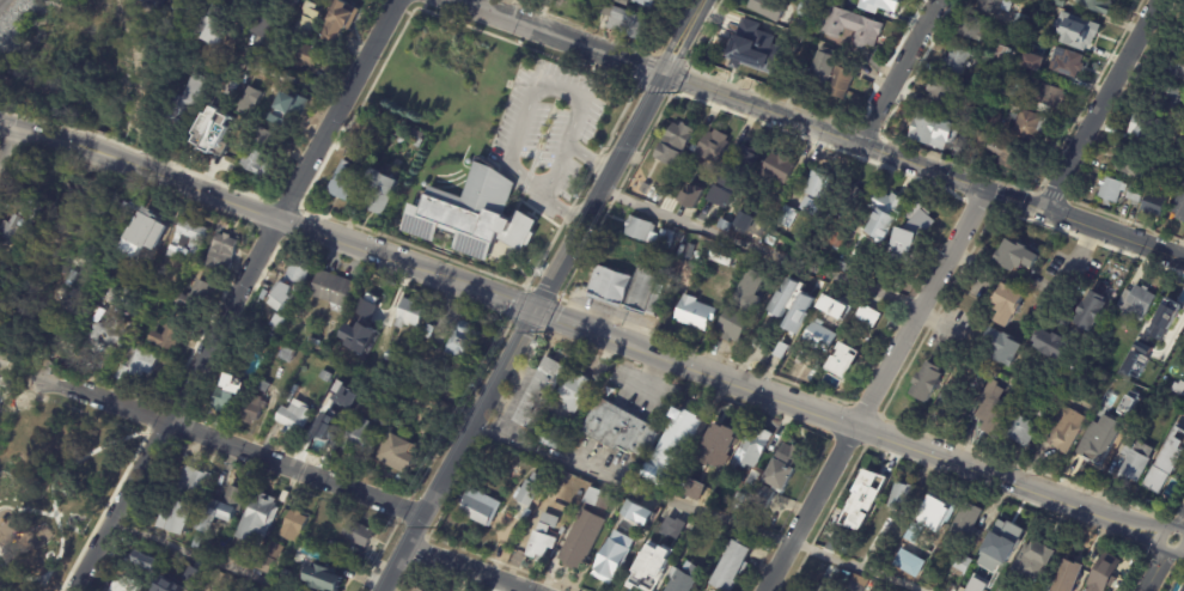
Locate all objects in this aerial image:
railway: (0, 0)
building: (1037, 0)
building: (625, 1)
building: (844, 1)
building: (261, 2)
building: (651, 2)
building: (889, 2)
building: (1056, 2)
building: (297, 4)
building: (154, 5)
building: (994, 5)
building: (1093, 6)
building: (773, 8)
building: (808, 10)
building: (190, 12)
road: (538, 13)
building: (584, 16)
building: (311, 18)
building: (624, 19)
building: (343, 22)
building: (1021, 22)
building: (267, 23)
building: (225, 26)
building: (854, 26)
building: (969, 29)
building: (1079, 33)
road: (560, 36)
road: (683, 37)
building: (94, 42)
building: (1183, 49)
building: (141, 54)
building: (756, 54)
building: (1003, 54)
building: (307, 56)
building: (956, 61)
building: (1023, 62)
building: (1061, 63)
building: (828, 65)
building: (1173, 68)
road: (898, 72)
road: (280, 75)
park: (445, 83)
building: (843, 83)
building: (1009, 91)
building: (203, 92)
power tower: (676, 92)
building: (939, 92)
road: (530, 96)
building: (1044, 98)
building: (1167, 102)
building: (254, 103)
road: (338, 104)
road: (1100, 104)
building: (294, 109)
building: (970, 117)
building: (989, 123)
building: (1027, 127)
building: (1142, 129)
building: (214, 130)
building: (934, 132)
building: (267, 134)
road: (49, 135)
building: (1180, 136)
road: (853, 141)
building: (419, 142)
building: (677, 142)
building: (230, 145)
building: (714, 145)
building: (977, 145)
road: (11, 148)
building: (358, 153)
road: (108, 154)
building: (1002, 156)
building: (261, 163)
building: (1134, 165)
road: (550, 166)
building: (743, 166)
building: (782, 166)
building: (663, 177)
road: (172, 178)
building: (347, 181)
building: (820, 185)
building: (1110, 190)
building: (383, 193)
building: (657, 193)
building: (690, 194)
building: (1131, 194)
building: (724, 195)
building: (849, 196)
road: (249, 201)
building: (25, 203)
building: (1153, 206)
building: (1179, 207)
road: (246, 211)
building: (123, 214)
building: (891, 214)
building: (791, 215)
building: (474, 217)
road: (285, 220)
building: (29, 224)
building: (727, 224)
building: (917, 226)
building: (10, 230)
building: (651, 231)
building: (147, 232)
road: (1113, 233)
building: (779, 234)
building: (190, 236)
road: (331, 237)
building: (840, 239)
building: (2, 245)
building: (225, 251)
road: (758, 251)
building: (689, 252)
building: (726, 255)
building: (1014, 255)
building: (673, 266)
road: (1068, 267)
building: (858, 268)
building: (541, 270)
building: (884, 273)
building: (155, 274)
building: (801, 279)
building: (291, 285)
building: (818, 285)
building: (627, 286)
building: (334, 287)
building: (755, 291)
building: (199, 297)
building: (783, 297)
road: (236, 298)
building: (382, 299)
building: (847, 301)
building: (1136, 303)
building: (366, 305)
building: (1006, 305)
building: (834, 306)
building: (1090, 311)
building: (413, 312)
building: (698, 312)
building: (98, 313)
building: (798, 313)
building: (865, 317)
building: (1166, 319)
building: (371, 323)
building: (738, 323)
building: (791, 324)
building: (429, 330)
road: (521, 331)
power tower: (543, 331)
building: (1183, 331)
building: (358, 334)
building: (103, 335)
building: (819, 335)
building: (167, 336)
building: (316, 341)
building: (466, 341)
building: (536, 343)
building: (1048, 343)
building: (280, 345)
building: (1000, 347)
building: (1136, 351)
building: (355, 352)
building: (289, 353)
building: (396, 357)
building: (844, 358)
building: (135, 364)
building: (252, 371)
building: (306, 373)
building: (982, 373)
building: (326, 376)
building: (926, 383)
building: (263, 384)
road: (746, 384)
road: (873, 389)
building: (576, 391)
building: (543, 394)
building: (1135, 394)
building: (222, 396)
building: (1127, 406)
road: (172, 407)
building: (988, 407)
building: (255, 409)
building: (1039, 410)
building: (297, 418)
building: (336, 422)
building: (622, 429)
building: (1018, 429)
building: (1064, 429)
building: (361, 435)
building: (681, 438)
building: (553, 439)
building: (1098, 441)
road: (230, 443)
building: (716, 445)
building: (753, 447)
building: (399, 451)
road: (84, 456)
building: (1133, 461)
building: (786, 465)
building: (663, 476)
building: (402, 479)
building: (1158, 479)
park: (66, 480)
building: (866, 485)
building: (533, 488)
building: (747, 488)
building: (694, 491)
building: (600, 496)
building: (767, 496)
building: (897, 496)
building: (190, 498)
building: (481, 506)
building: (225, 508)
road: (696, 508)
building: (641, 512)
building: (935, 512)
building: (529, 514)
building: (261, 518)
road: (1180, 522)
building: (964, 524)
building: (295, 526)
power tower: (435, 526)
building: (671, 526)
building: (564, 530)
building: (359, 534)
building: (545, 536)
building: (582, 538)
road: (1159, 540)
building: (203, 544)
building: (289, 546)
building: (338, 548)
building: (1002, 549)
road: (203, 555)
building: (616, 555)
building: (920, 556)
building: (270, 558)
building: (144, 561)
building: (734, 565)
building: (960, 565)
road: (28, 567)
building: (1026, 567)
road: (469, 568)
building: (647, 571)
road: (1155, 571)
building: (913, 573)
building: (1101, 573)
building: (1066, 577)
building: (326, 578)
building: (685, 578)
building: (190, 579)
building: (127, 584)
building: (169, 585)
building: (814, 586)
building: (854, 586)
building: (1182, 587)
building: (421, 589)
building: (877, 589)

